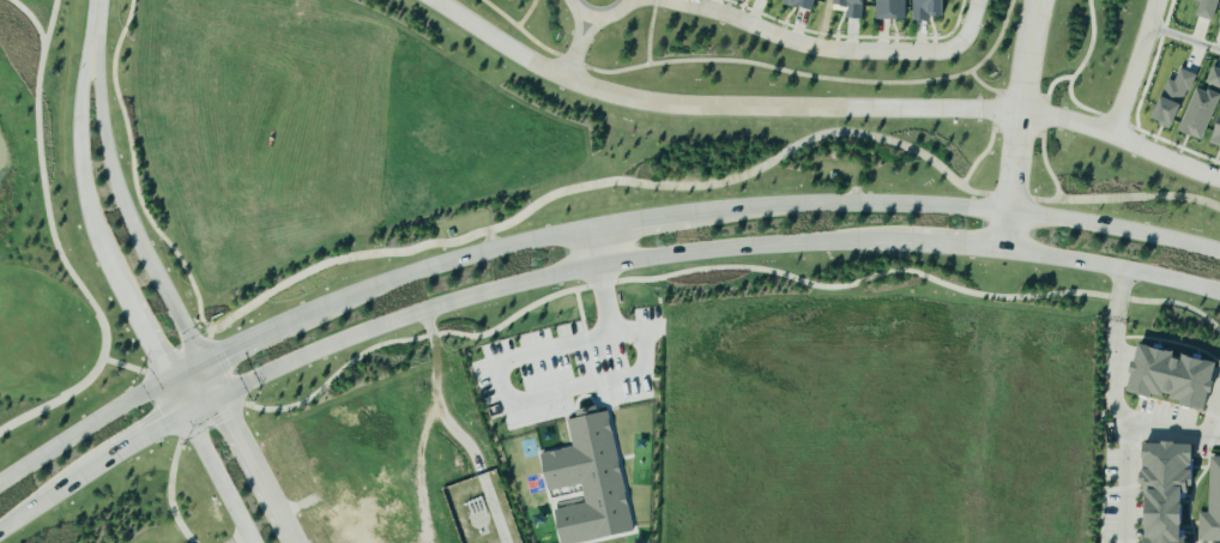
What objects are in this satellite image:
building: (802, 4)
building: (853, 7)
building: (929, 8)
building: (1208, 8)
building: (889, 10)
road: (526, 12)
road: (597, 14)
road: (34, 20)
road: (973, 22)
building: (1219, 23)
road: (92, 26)
road: (648, 30)
road: (526, 32)
road: (1180, 41)
road: (576, 43)
road: (811, 46)
road: (1128, 67)
road: (810, 74)
building: (1214, 78)
building: (1172, 98)
road: (1045, 105)
road: (820, 107)
building: (1198, 113)
road: (1015, 123)
road: (1017, 132)
building: (1216, 137)
road: (990, 141)
road: (43, 185)
road: (671, 185)
road: (95, 222)
road: (584, 227)
road: (131, 234)
road: (598, 243)
road: (582, 266)
road: (1113, 340)
building: (1173, 378)
road: (497, 387)
road: (433, 393)
road: (56, 399)
road: (1168, 426)
road: (176, 434)
road: (209, 460)
road: (255, 470)
road: (1118, 478)
building: (588, 481)
building: (1168, 490)
building: (1212, 507)

